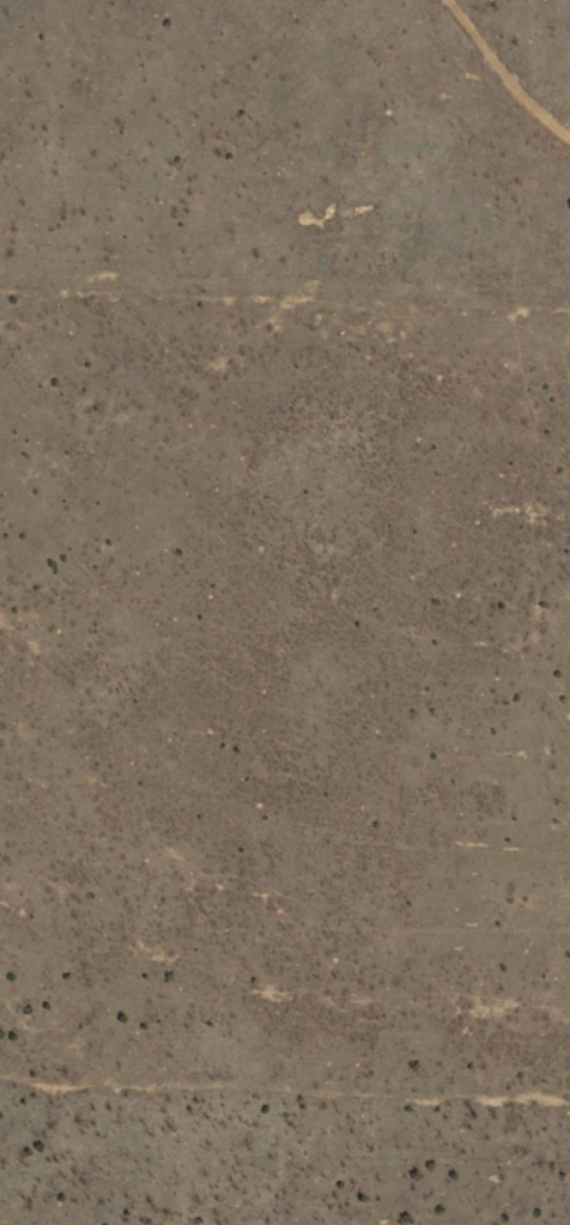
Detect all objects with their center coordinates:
road: (481, 79)

